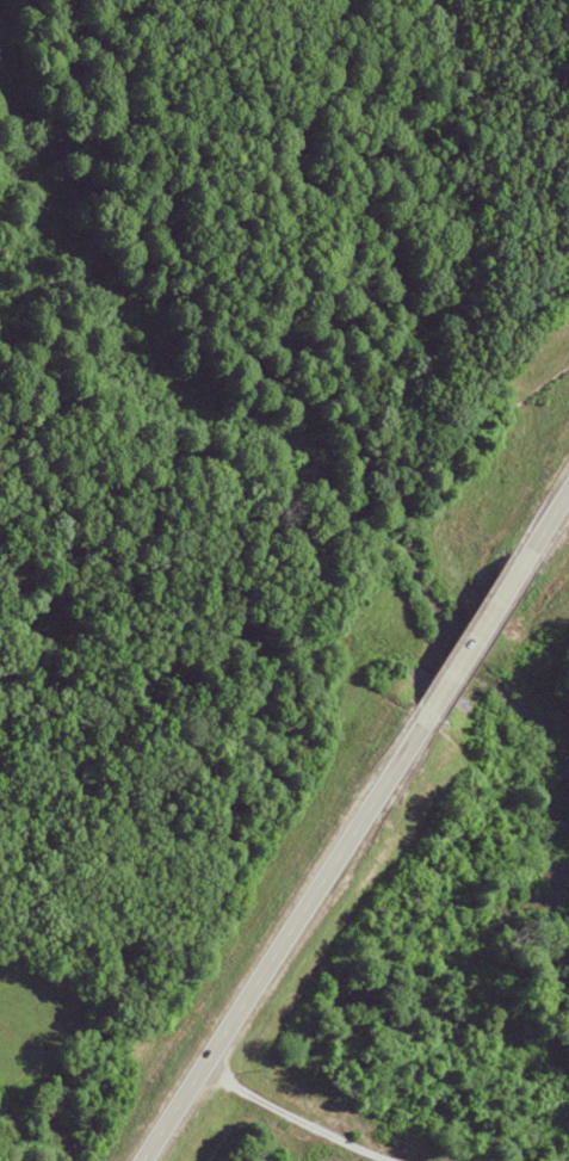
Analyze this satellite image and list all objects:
park: (110, 18)
road: (543, 518)
road: (464, 637)
road: (272, 938)

